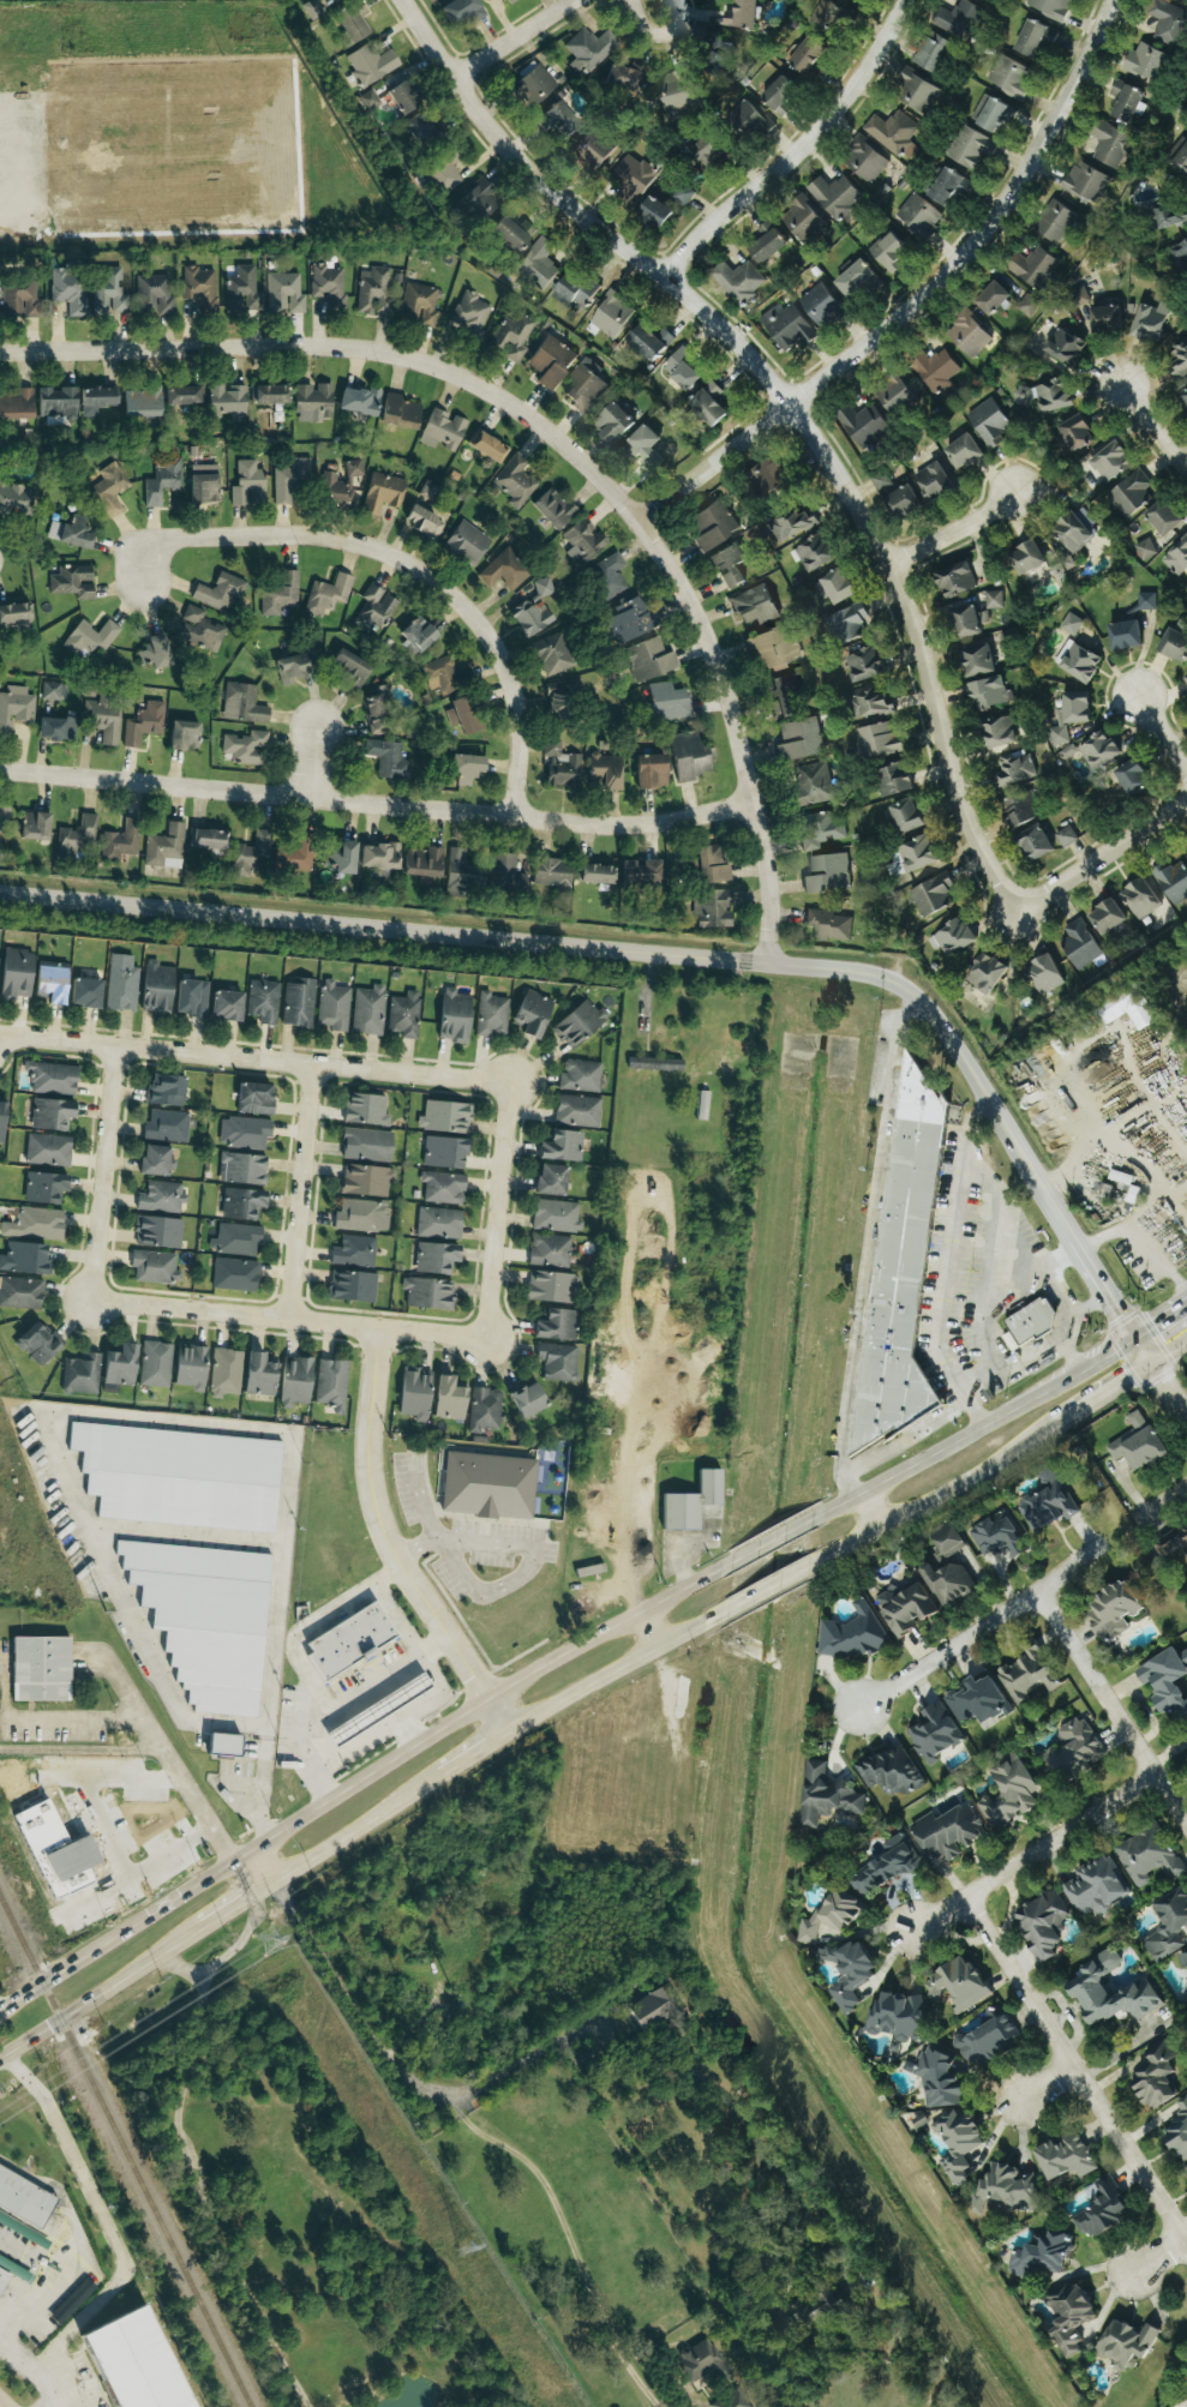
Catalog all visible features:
building: (325, 0)
building: (485, 0)
building: (857, 0)
building: (510, 1)
building: (1050, 7)
building: (313, 8)
building: (464, 11)
building: (742, 14)
building: (831, 16)
building: (958, 18)
building: (350, 23)
building: (1170, 23)
road: (659, 36)
building: (1036, 37)
road: (515, 41)
building: (592, 48)
building: (931, 53)
building: (807, 55)
building: (717, 56)
building: (1147, 62)
building: (371, 65)
building: (1011, 77)
building: (534, 84)
building: (919, 92)
building: (780, 94)
building: (403, 97)
building: (368, 100)
building: (1127, 104)
building: (990, 114)
building: (749, 120)
building: (562, 121)
building: (419, 131)
building: (894, 133)
building: (1111, 145)
building: (970, 148)
building: (595, 149)
building: (705, 150)
road: (797, 151)
road: (510, 156)
building: (1180, 158)
building: (865, 160)
building: (445, 172)
building: (634, 176)
building: (1086, 181)
building: (949, 186)
building: (684, 194)
building: (835, 197)
building: (478, 202)
building: (655, 212)
building: (919, 216)
building: (1170, 217)
building: (802, 220)
building: (1056, 222)
building: (511, 233)
building: (767, 246)
building: (889, 252)
building: (1181, 254)
building: (540, 263)
building: (1033, 266)
building: (858, 280)
building: (739, 281)
building: (328, 283)
building: (198, 284)
building: (244, 290)
building: (70, 292)
building: (109, 292)
building: (376, 292)
building: (575, 292)
building: (154, 294)
building: (286, 294)
building: (1080, 296)
building: (19, 299)
building: (993, 299)
road: (919, 300)
building: (420, 305)
building: (821, 305)
building: (1030, 305)
building: (470, 314)
building: (613, 314)
building: (1107, 318)
building: (1151, 322)
building: (787, 328)
building: (969, 335)
building: (512, 336)
road: (727, 337)
building: (651, 341)
building: (1066, 348)
building: (1179, 359)
building: (551, 361)
building: (592, 366)
building: (682, 371)
building: (936, 371)
building: (584, 389)
building: (895, 395)
building: (181, 396)
building: (269, 396)
building: (1047, 397)
building: (1183, 398)
building: (228, 400)
building: (97, 401)
building: (56, 402)
building: (359, 402)
building: (142, 403)
building: (314, 403)
building: (709, 403)
building: (17, 407)
building: (400, 412)
building: (990, 422)
building: (613, 424)
building: (864, 425)
road: (1151, 425)
building: (442, 431)
building: (1077, 433)
road: (558, 442)
building: (487, 448)
building: (646, 448)
building: (964, 452)
building: (1110, 462)
building: (354, 468)
building: (767, 476)
building: (292, 480)
building: (515, 481)
building: (934, 481)
building: (163, 482)
building: (882, 482)
building: (204, 485)
building: (248, 485)
building: (334, 488)
building: (110, 490)
building: (430, 491)
building: (383, 493)
building: (1133, 493)
building: (14, 502)
building: (904, 502)
building: (554, 509)
building: (1165, 517)
building: (424, 522)
building: (713, 524)
building: (793, 526)
building: (1075, 529)
road: (955, 532)
building: (71, 533)
building: (584, 541)
building: (468, 542)
building: (1146, 550)
building: (816, 553)
building: (1177, 558)
building: (1027, 559)
road: (402, 562)
building: (730, 565)
building: (505, 571)
building: (609, 575)
building: (955, 581)
building: (73, 582)
building: (544, 587)
building: (835, 587)
building: (220, 592)
building: (280, 595)
building: (328, 595)
building: (995, 600)
building: (1147, 601)
building: (755, 606)
building: (374, 611)
building: (14, 613)
building: (532, 617)
building: (630, 622)
building: (970, 622)
building: (847, 625)
building: (1072, 625)
building: (202, 630)
building: (416, 636)
building: (1126, 636)
building: (90, 638)
building: (1174, 647)
building: (775, 648)
road: (919, 649)
building: (154, 653)
building: (553, 655)
building: (649, 660)
building: (978, 661)
building: (1081, 664)
building: (864, 665)
building: (292, 670)
building: (348, 670)
building: (442, 676)
building: (1186, 677)
building: (50, 691)
building: (990, 694)
building: (562, 697)
building: (870, 702)
building: (669, 703)
building: (244, 704)
building: (16, 710)
building: (377, 712)
building: (1071, 716)
building: (103, 719)
building: (462, 719)
building: (144, 725)
building: (54, 730)
building: (1000, 732)
road: (1162, 733)
building: (184, 737)
building: (802, 739)
building: (880, 740)
building: (245, 748)
building: (1099, 751)
building: (1068, 752)
road: (312, 758)
building: (689, 758)
building: (386, 760)
building: (562, 766)
building: (467, 769)
building: (1017, 769)
building: (651, 772)
building: (605, 773)
building: (1133, 778)
building: (894, 780)
building: (814, 785)
road: (376, 806)
building: (1023, 812)
building: (4, 817)
building: (905, 818)
building: (35, 827)
building: (820, 830)
building: (1067, 836)
building: (77, 838)
building: (208, 840)
building: (121, 841)
building: (1036, 845)
building: (166, 848)
road: (1102, 852)
building: (251, 854)
building: (918, 856)
building: (379, 858)
building: (342, 859)
building: (424, 864)
building: (711, 866)
building: (504, 869)
building: (464, 872)
building: (552, 874)
building: (640, 874)
building: (595, 875)
building: (828, 875)
building: (1174, 882)
building: (933, 896)
building: (1141, 899)
building: (713, 911)
building: (1108, 918)
building: (831, 926)
road: (383, 928)
building: (953, 938)
building: (1081, 944)
building: (16, 973)
building: (987, 974)
building: (1045, 976)
building: (50, 982)
building: (122, 983)
building: (157, 988)
building: (85, 992)
building: (192, 997)
building: (264, 1001)
building: (299, 1003)
building: (226, 1004)
building: (334, 1007)
building: (1127, 1008)
building: (370, 1010)
building: (532, 1012)
building: (404, 1014)
building: (492, 1015)
building: (455, 1016)
building: (578, 1022)
road: (253, 1061)
building: (655, 1064)
building: (581, 1076)
building: (53, 1079)
building: (166, 1090)
building: (256, 1098)
building: (365, 1110)
building: (578, 1111)
road: (995, 1111)
building: (53, 1114)
building: (445, 1117)
building: (2, 1121)
building: (167, 1126)
building: (245, 1133)
building: (366, 1145)
building: (562, 1146)
building: (49, 1150)
building: (444, 1152)
building: (156, 1159)
building: (245, 1169)
road: (102, 1175)
building: (367, 1180)
building: (551, 1180)
building: (46, 1188)
building: (443, 1188)
road: (298, 1194)
building: (162, 1196)
building: (242, 1203)
road: (497, 1212)
building: (361, 1215)
building: (557, 1217)
building: (439, 1223)
building: (36, 1224)
road: (870, 1231)
building: (158, 1232)
road: (1101, 1237)
building: (236, 1239)
building: (551, 1250)
building: (354, 1251)
building: (437, 1257)
building: (25, 1259)
road: (949, 1262)
building: (155, 1267)
building: (236, 1274)
road: (994, 1274)
building: (353, 1286)
building: (553, 1286)
road: (1059, 1289)
building: (22, 1292)
building: (428, 1293)
road: (287, 1321)
building: (1033, 1321)
road: (1161, 1321)
road: (1066, 1323)
building: (557, 1325)
traffic signals: (1134, 1338)
building: (1012, 1341)
building: (38, 1344)
road: (1169, 1353)
building: (559, 1362)
road: (1027, 1362)
building: (156, 1364)
building: (120, 1365)
traffic signals: (1151, 1365)
building: (190, 1368)
building: (226, 1373)
building: (82, 1375)
building: (258, 1375)
building: (295, 1381)
building: (332, 1385)
road: (1169, 1392)
road: (1103, 1394)
building: (449, 1399)
building: (527, 1400)
building: (485, 1410)
road: (169, 1423)
road: (972, 1429)
building: (1138, 1442)
road: (877, 1452)
building: (180, 1477)
building: (488, 1485)
road: (934, 1496)
building: (1048, 1502)
building: (691, 1503)
road: (1165, 1503)
building: (997, 1535)
road: (771, 1541)
building: (948, 1541)
building: (1173, 1544)
road: (389, 1545)
road: (532, 1554)
road: (1069, 1568)
building: (590, 1571)
building: (949, 1583)
road: (767, 1589)
building: (907, 1608)
building: (1114, 1610)
power tower: (104, 1613)
building: (206, 1619)
road: (648, 1629)
building: (853, 1634)
building: (349, 1640)
road: (948, 1652)
road: (300, 1663)
building: (40, 1669)
road: (613, 1669)
road: (434, 1671)
building: (1030, 1674)
building: (1165, 1681)
road: (368, 1686)
building: (978, 1700)
road: (1111, 1707)
road: (149, 1718)
building: (935, 1734)
building: (223, 1745)
building: (1074, 1748)
road: (470, 1753)
building: (892, 1771)
road: (361, 1777)
building: (1009, 1791)
building: (827, 1795)
road: (347, 1831)
road: (1033, 1851)
building: (1151, 1857)
building: (886, 1867)
building: (1097, 1889)
road: (229, 1908)
building: (832, 1917)
building: (1044, 1923)
building: (1169, 1926)
power tower: (270, 1939)
road: (222, 1952)
building: (1183, 1958)
building: (849, 1973)
building: (1186, 1981)
building: (958, 1985)
road: (100, 1991)
building: (1089, 1992)
building: (646, 2010)
building: (899, 2017)
building: (989, 2036)
road: (1074, 2073)
building: (1156, 2076)
building: (937, 2078)
road: (1047, 2087)
road: (485, 2090)
building: (921, 2120)
building: (1179, 2131)
building: (959, 2144)
railway: (125, 2153)
building: (1066, 2156)
building: (1006, 2189)
road: (200, 2196)
building: (24, 2199)
building: (1103, 2210)
road: (104, 2217)
road: (767, 2240)
power tower: (467, 2247)
building: (1043, 2256)
road: (1158, 2258)
road: (577, 2276)
building: (2, 2281)
road: (660, 2301)
building: (1069, 2318)
building: (1127, 2346)
building: (132, 2363)
building: (702, 2363)
road: (32, 2376)
road: (60, 2400)
building: (732, 2400)
road: (2, 2403)

